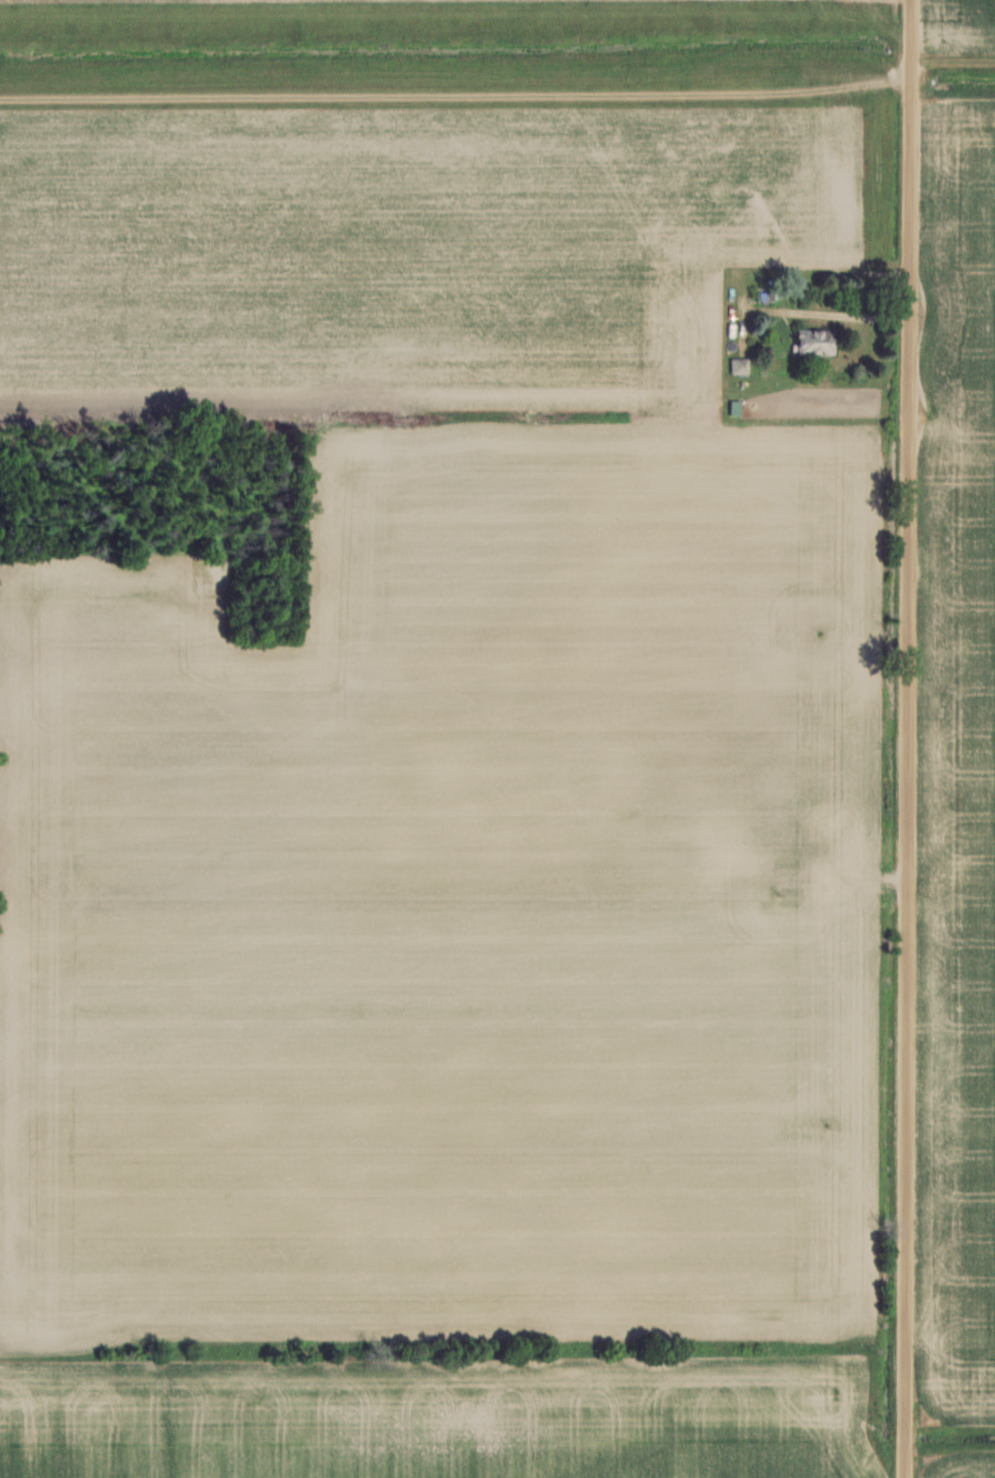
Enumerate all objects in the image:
building: (816, 341)
building: (740, 366)
road: (908, 739)

